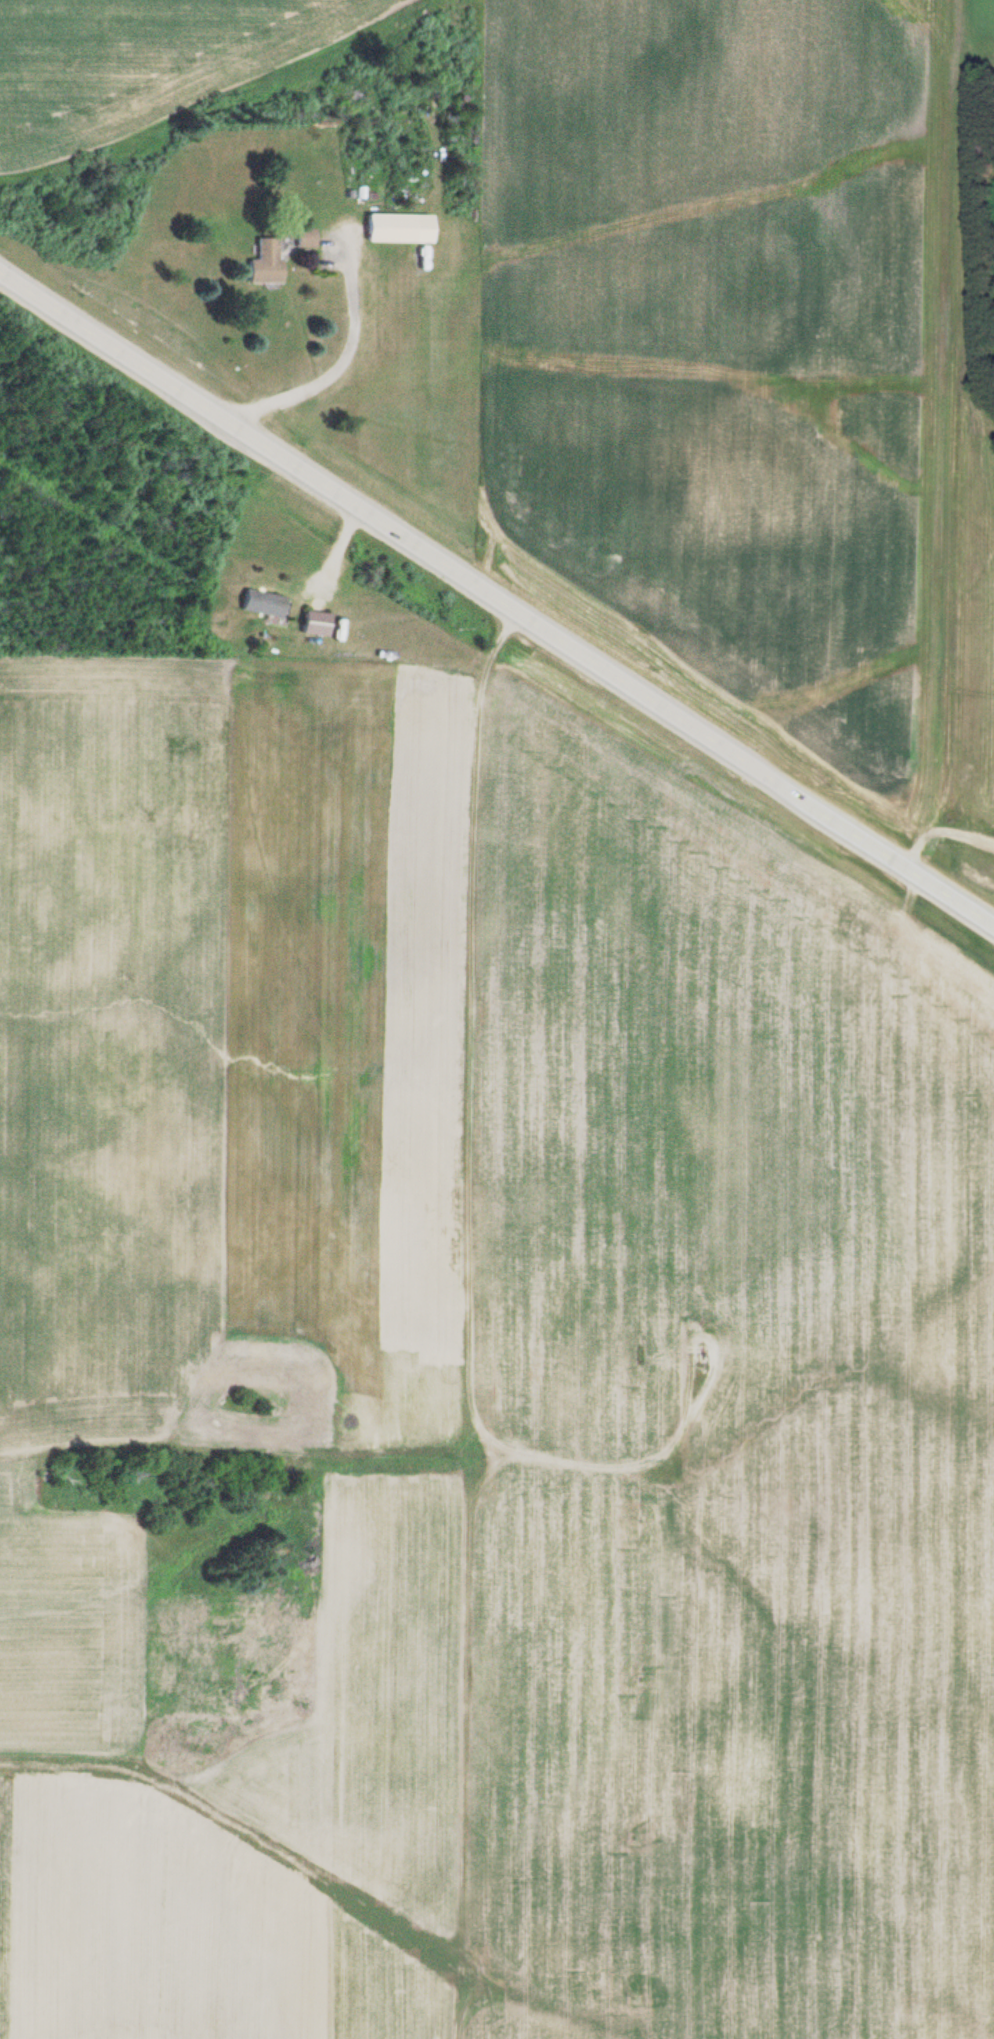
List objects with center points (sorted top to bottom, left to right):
building: (396, 228)
building: (302, 237)
building: (262, 261)
road: (498, 591)
building: (259, 605)
building: (312, 623)
road: (484, 1392)
road: (96, 1437)
road: (625, 1503)

